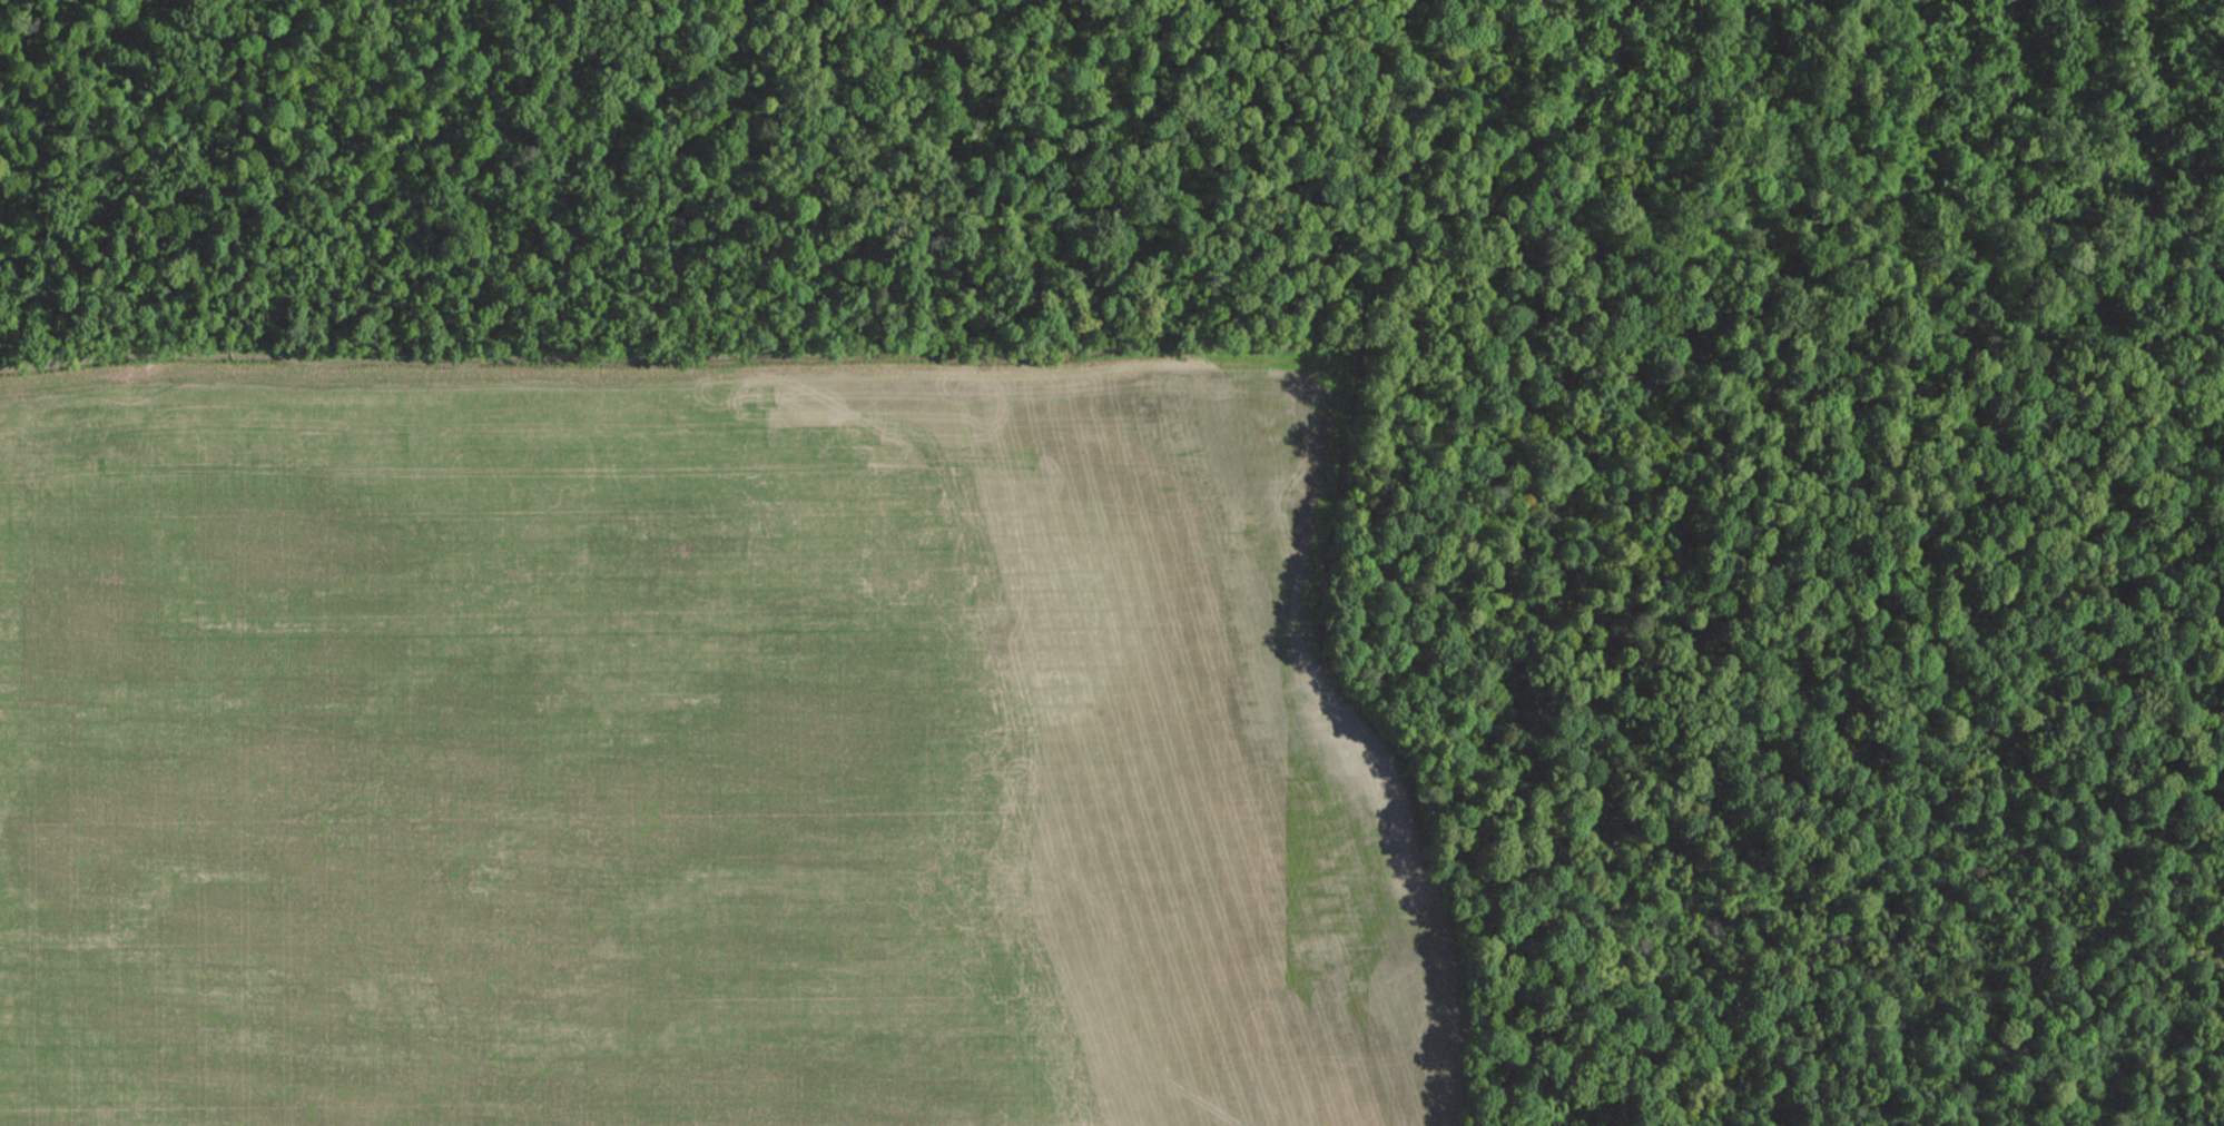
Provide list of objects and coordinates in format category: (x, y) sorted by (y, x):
park: (1433, 418)

